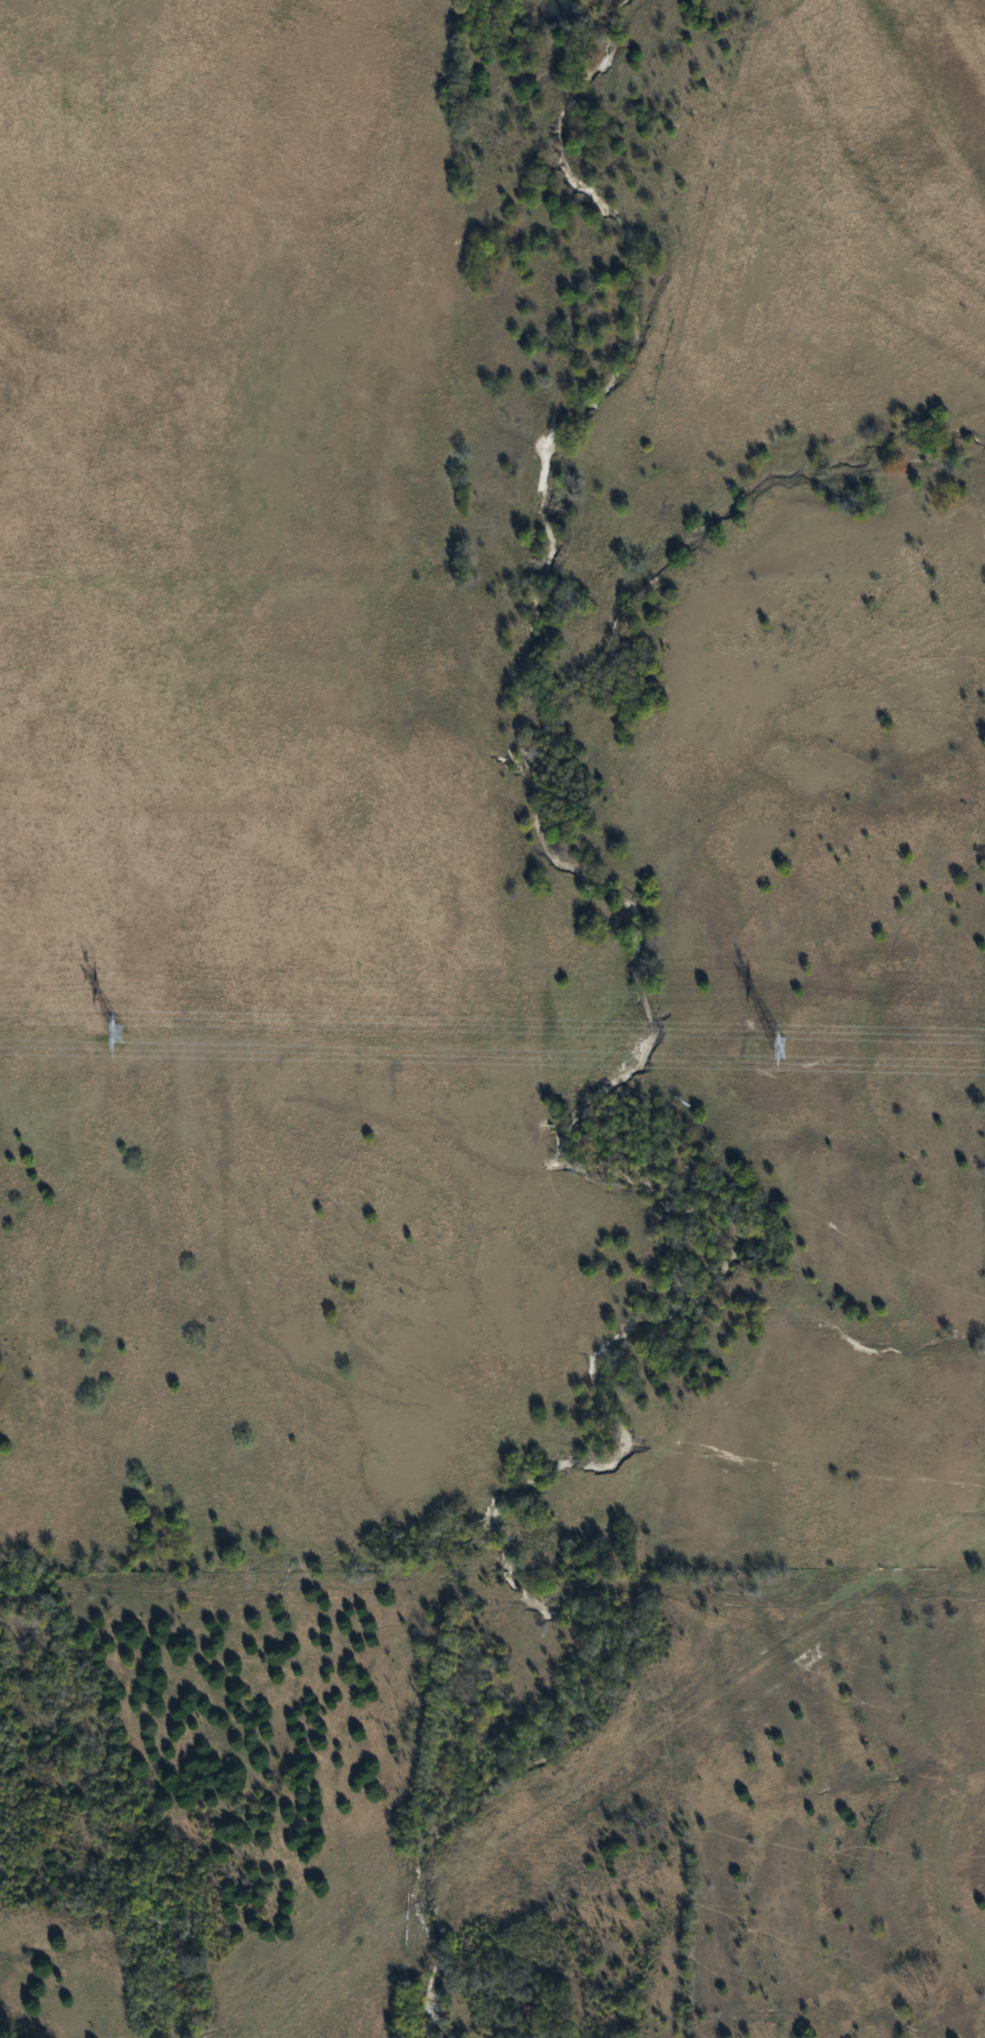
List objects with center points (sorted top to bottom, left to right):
power tower: (118, 1033)
power tower: (778, 1049)

